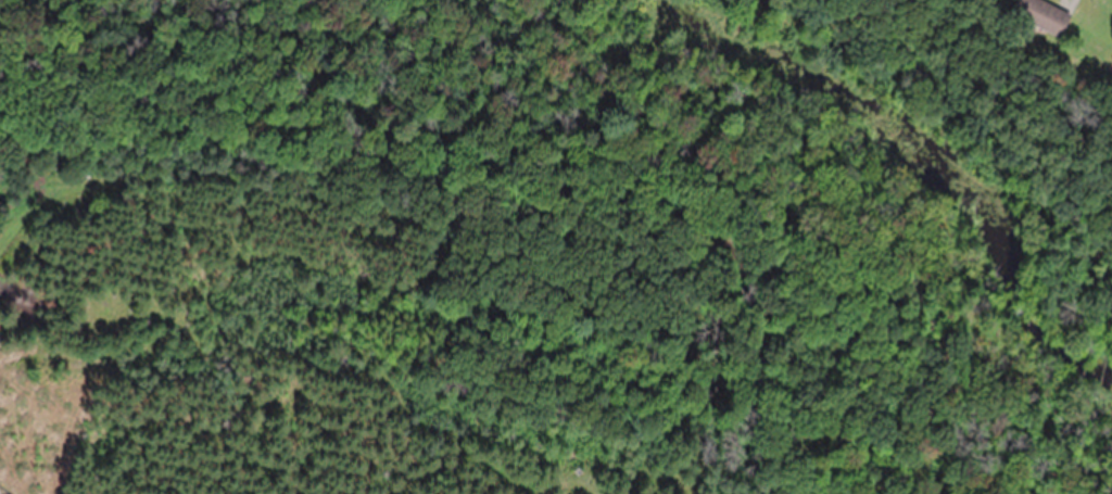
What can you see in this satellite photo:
building: (1047, 16)

